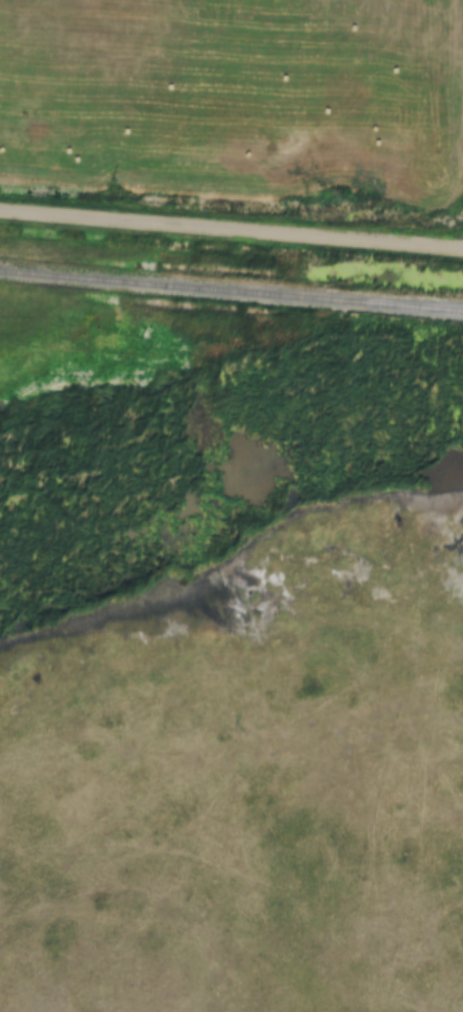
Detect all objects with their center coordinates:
road: (231, 230)
railway: (231, 286)

